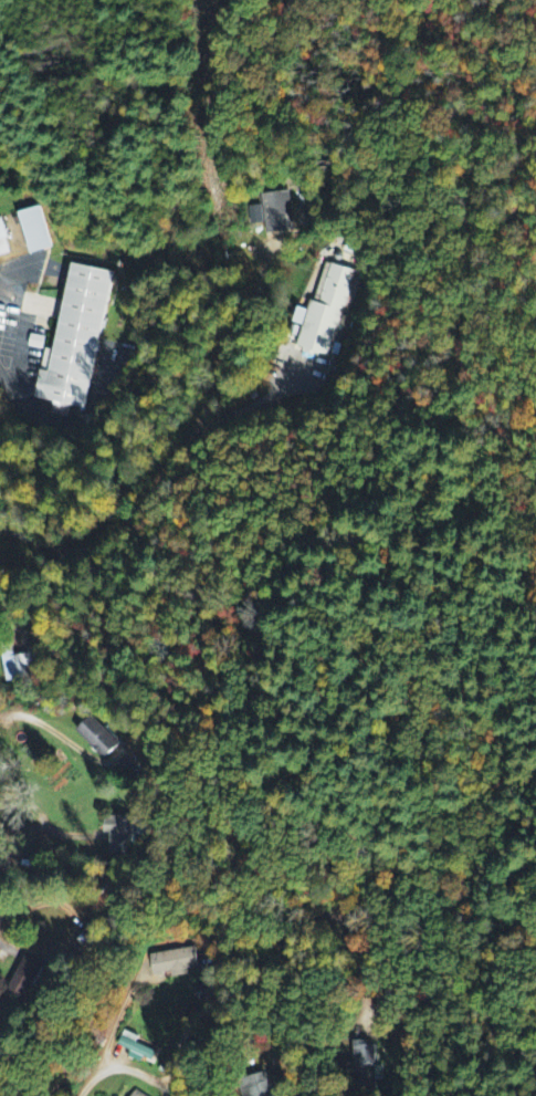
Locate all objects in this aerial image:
building: (277, 213)
building: (34, 231)
building: (2, 242)
building: (326, 313)
building: (74, 343)
building: (18, 668)
building: (97, 739)
building: (118, 835)
building: (174, 962)
building: (24, 978)
road: (109, 1031)
building: (134, 1048)
building: (362, 1066)
building: (256, 1086)
building: (134, 1094)

